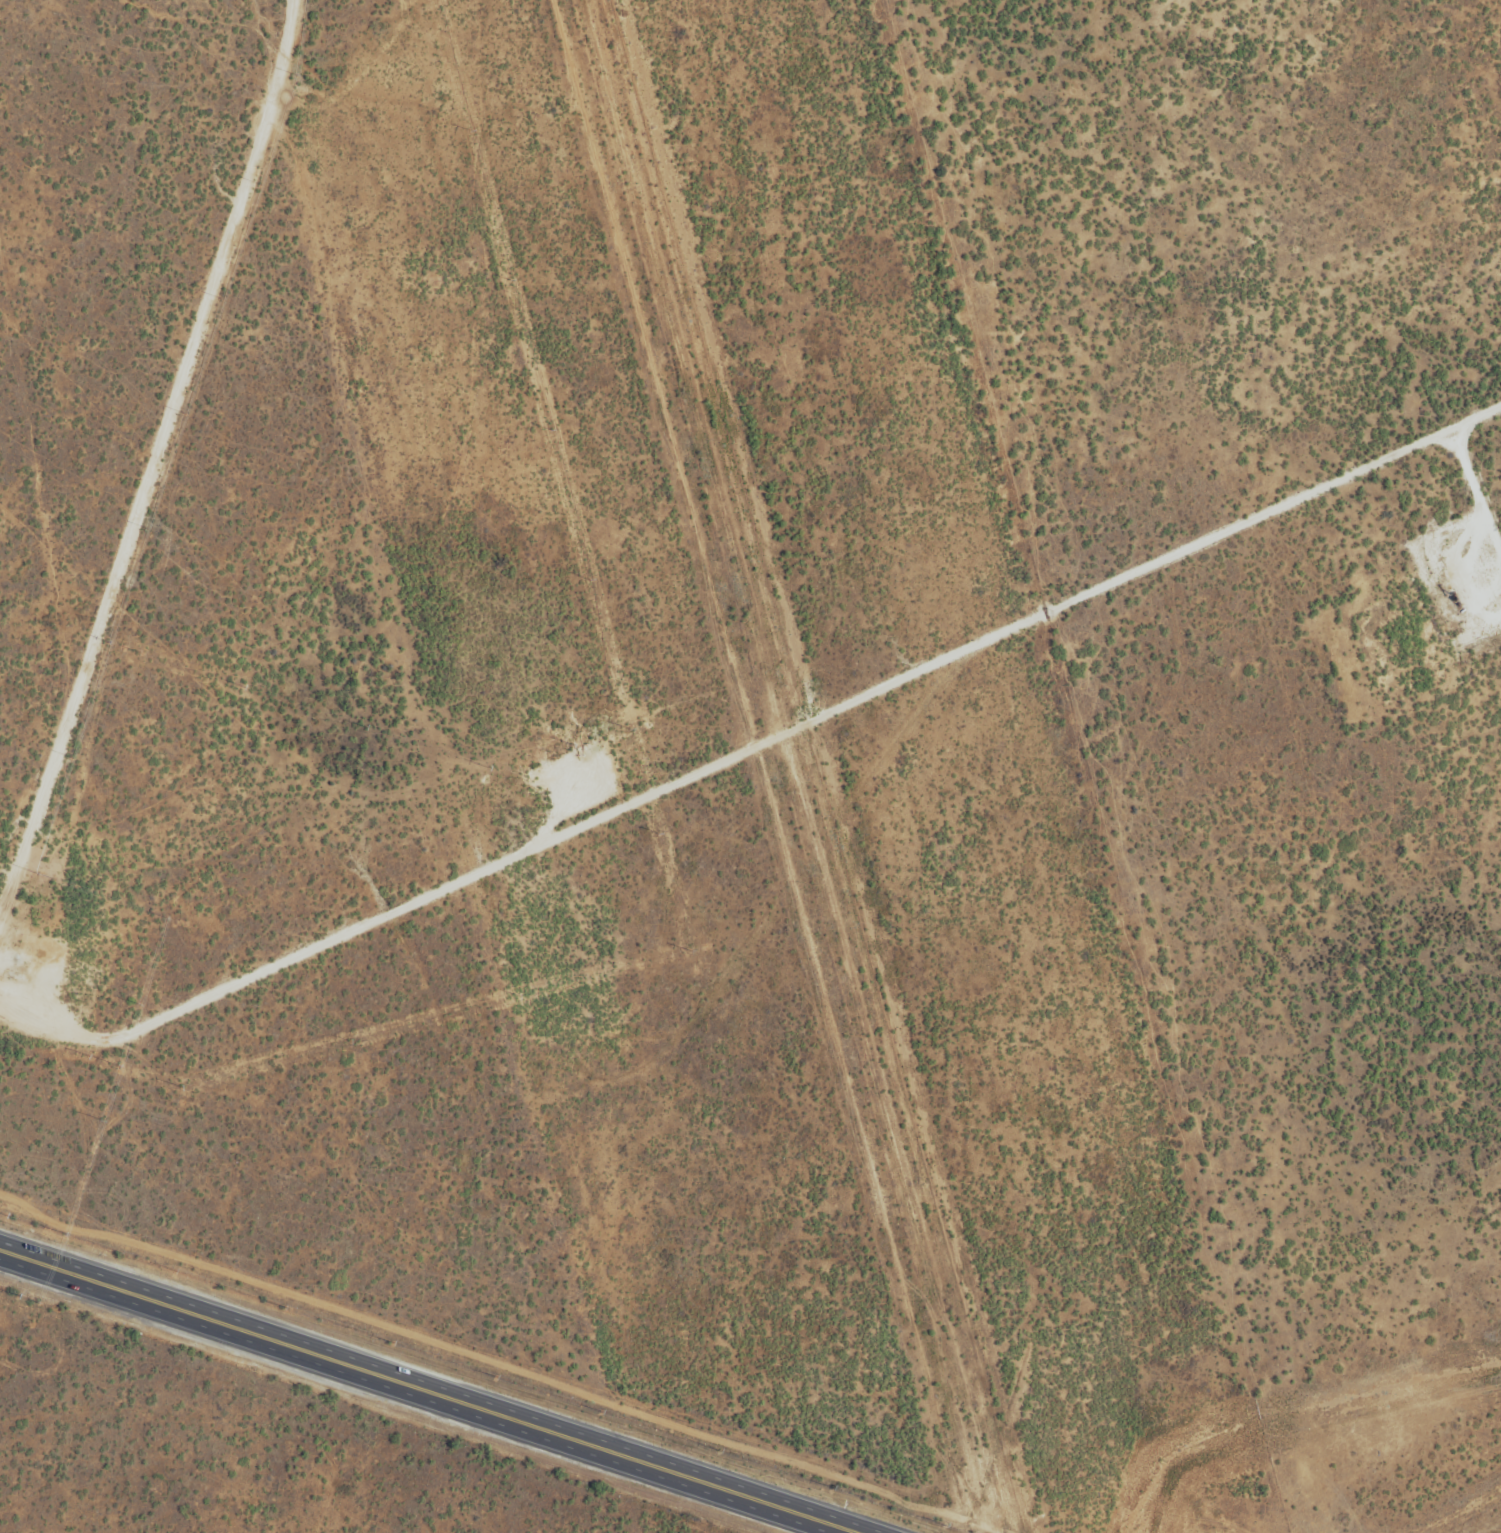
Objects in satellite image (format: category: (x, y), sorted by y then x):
road: (424, 1393)

